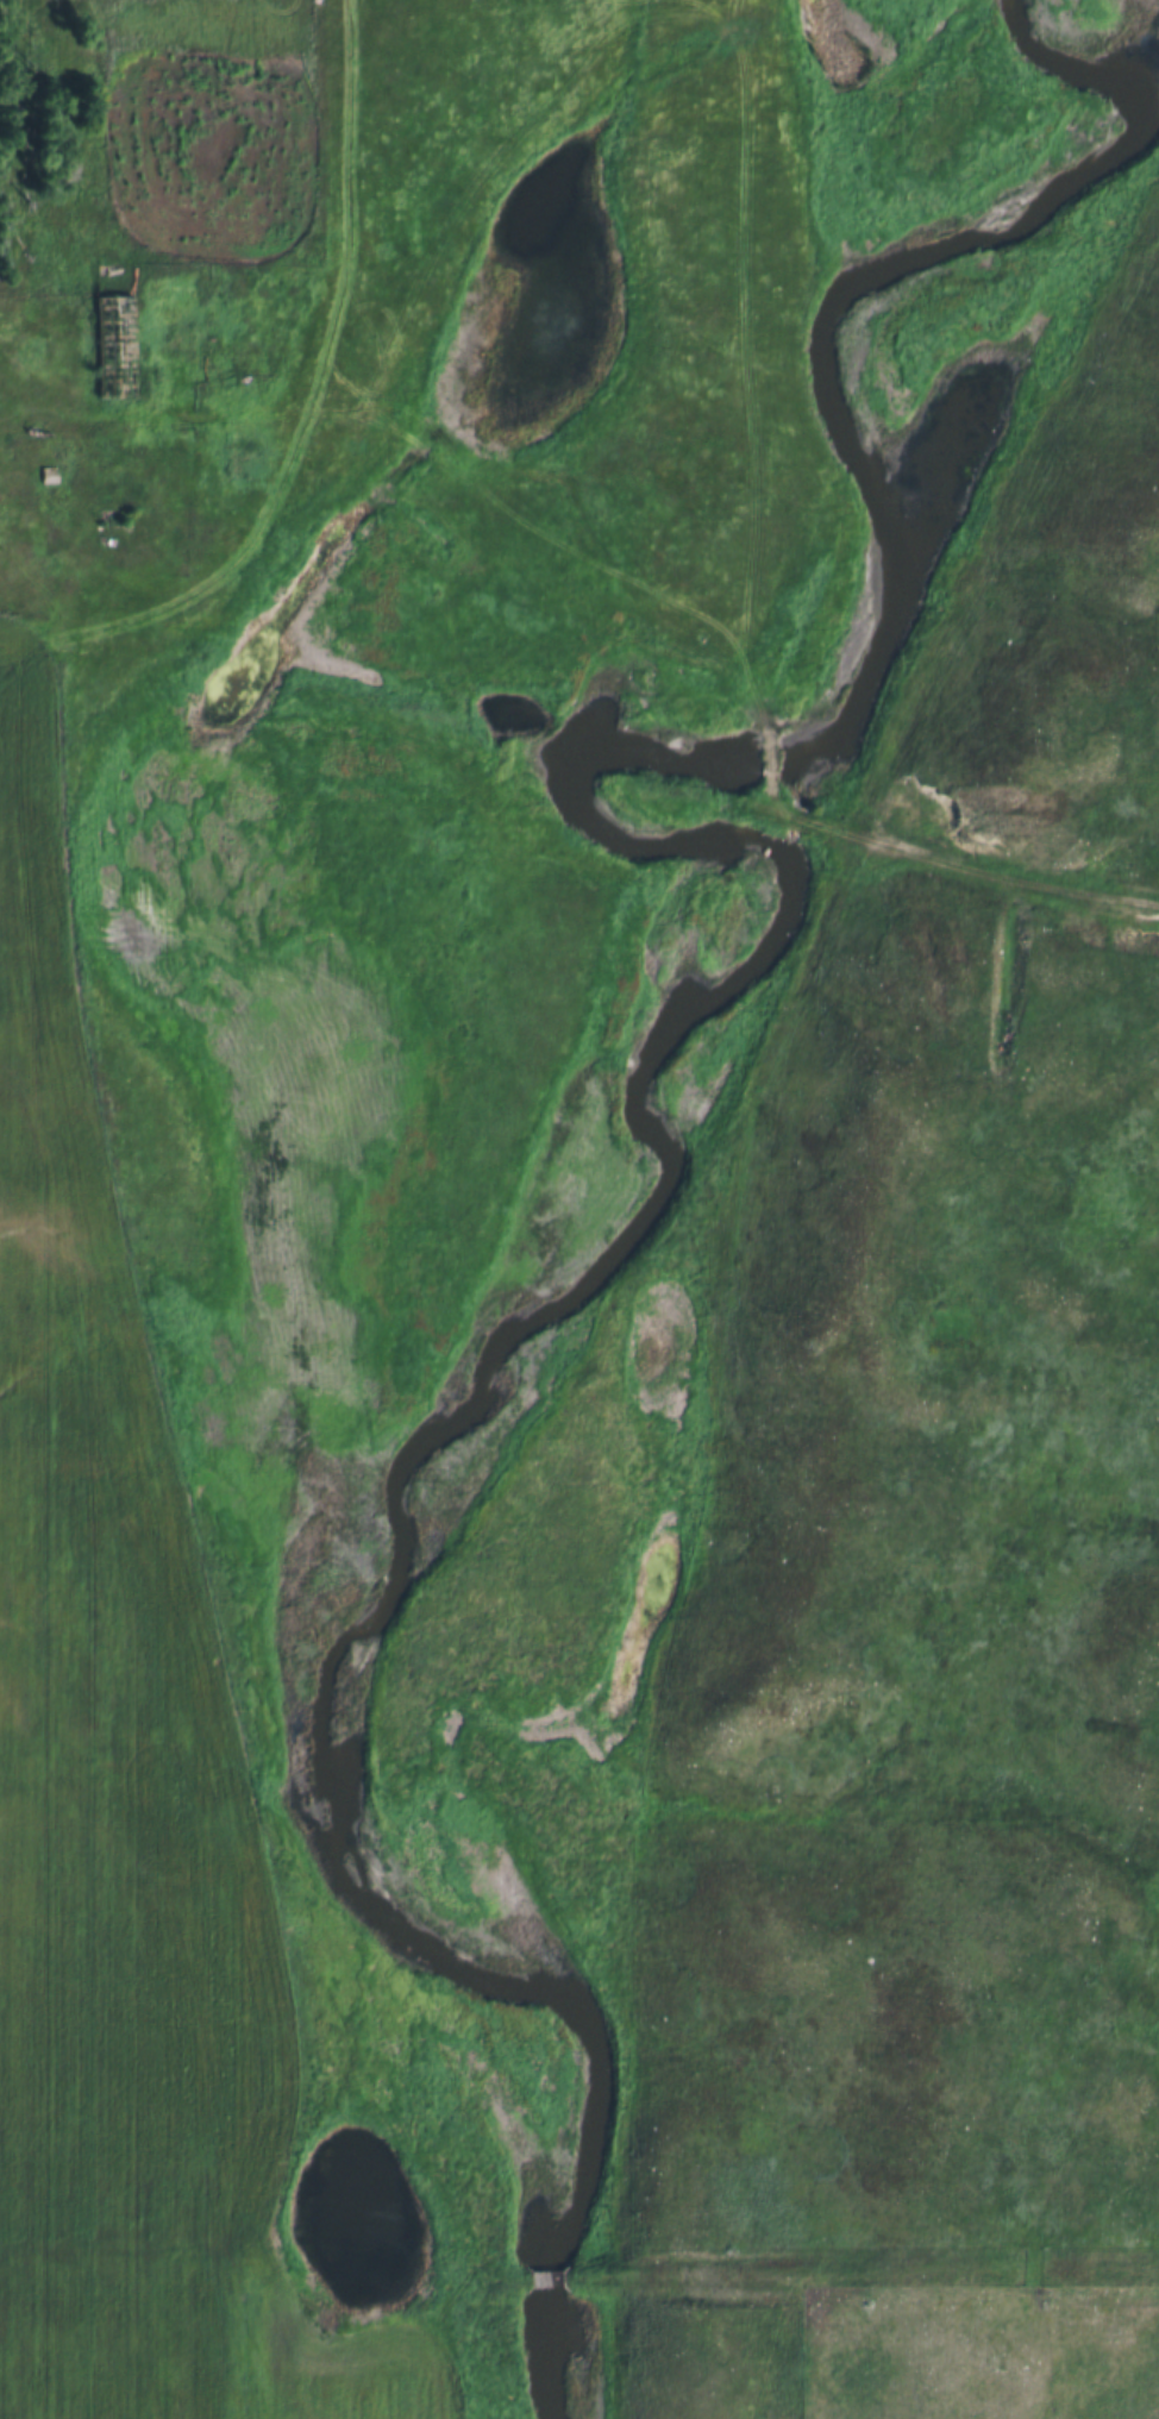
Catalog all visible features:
building: (117, 345)
building: (48, 476)
road: (1004, 872)
river: (688, 1001)

